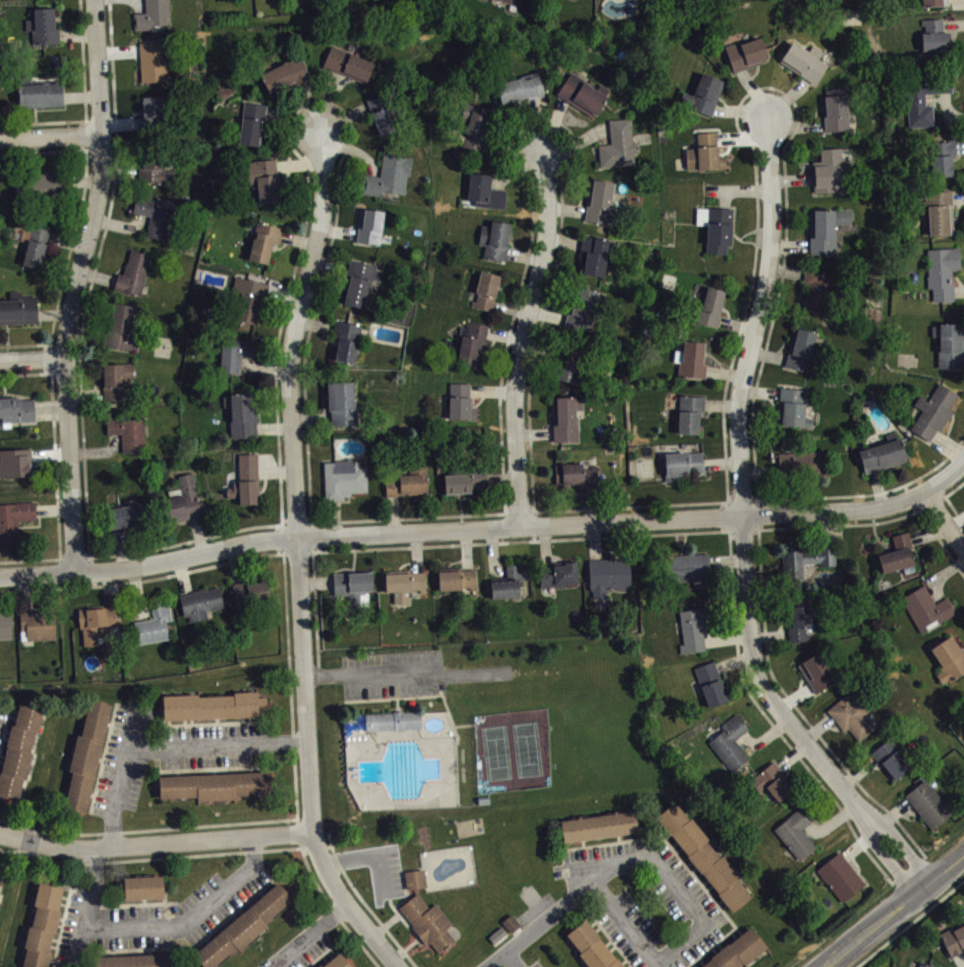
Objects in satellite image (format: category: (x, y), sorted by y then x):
building: (579, 0)
building: (514, 1)
building: (637, 1)
building: (933, 2)
building: (151, 14)
building: (43, 26)
building: (934, 35)
building: (745, 53)
building: (151, 61)
building: (803, 61)
building: (348, 63)
building: (285, 73)
building: (520, 87)
building: (39, 93)
building: (582, 93)
building: (702, 94)
building: (923, 97)
road: (85, 103)
building: (834, 109)
building: (151, 112)
building: (382, 114)
building: (252, 123)
building: (475, 128)
road: (51, 137)
building: (618, 145)
building: (704, 153)
building: (941, 157)
building: (155, 169)
building: (827, 171)
building: (387, 176)
building: (263, 180)
building: (40, 187)
building: (484, 191)
building: (599, 200)
building: (937, 211)
building: (153, 216)
building: (369, 225)
building: (715, 227)
building: (824, 229)
road: (74, 231)
building: (494, 239)
building: (263, 241)
building: (35, 245)
building: (592, 254)
building: (941, 271)
building: (133, 273)
building: (358, 281)
road: (75, 286)
building: (485, 290)
building: (818, 290)
building: (248, 300)
building: (710, 306)
building: (18, 308)
building: (582, 310)
road: (758, 320)
road: (542, 324)
building: (121, 328)
building: (346, 341)
road: (527, 342)
building: (472, 343)
building: (949, 344)
building: (799, 349)
building: (235, 354)
building: (578, 355)
building: (690, 359)
road: (31, 360)
building: (568, 369)
building: (116, 380)
building: (460, 401)
road: (752, 401)
building: (341, 403)
building: (791, 407)
building: (16, 409)
building: (933, 411)
building: (689, 413)
building: (241, 414)
building: (565, 417)
building: (126, 431)
road: (278, 451)
building: (881, 453)
building: (803, 463)
building: (681, 464)
building: (18, 469)
road: (55, 470)
building: (575, 475)
building: (343, 479)
building: (245, 480)
building: (465, 480)
building: (408, 482)
road: (946, 485)
road: (947, 499)
building: (183, 501)
building: (124, 516)
building: (14, 517)
road: (945, 525)
road: (462, 530)
road: (665, 532)
road: (941, 543)
building: (897, 554)
road: (299, 558)
building: (804, 560)
road: (230, 562)
building: (685, 567)
building: (558, 573)
building: (607, 574)
building: (456, 579)
building: (508, 581)
building: (403, 583)
building: (351, 585)
building: (248, 591)
building: (200, 602)
building: (925, 608)
building: (798, 618)
building: (96, 621)
building: (153, 623)
building: (4, 625)
building: (37, 625)
building: (693, 628)
road: (765, 641)
building: (948, 658)
building: (816, 671)
road: (407, 674)
parking lot: (393, 675)
building: (710, 682)
building: (210, 705)
building: (851, 714)
parking lot: (2, 718)
building: (384, 720)
road: (788, 722)
park: (478, 733)
road: (293, 742)
building: (729, 742)
road: (164, 743)
park: (512, 749)
building: (20, 750)
building: (85, 755)
building: (890, 758)
road: (295, 775)
building: (771, 781)
building: (213, 785)
building: (927, 803)
building: (599, 824)
road: (156, 828)
building: (795, 831)
road: (153, 846)
building: (703, 856)
parking lot: (390, 870)
building: (1, 874)
building: (839, 876)
building: (142, 886)
building: (418, 886)
road: (896, 912)
building: (428, 923)
building: (243, 924)
building: (40, 925)
road: (152, 925)
road: (543, 927)
road: (699, 929)
building: (513, 930)
road: (305, 936)
building: (500, 941)
building: (592, 946)
building: (955, 946)
building: (737, 950)
building: (135, 960)
building: (335, 961)
road: (513, 961)

